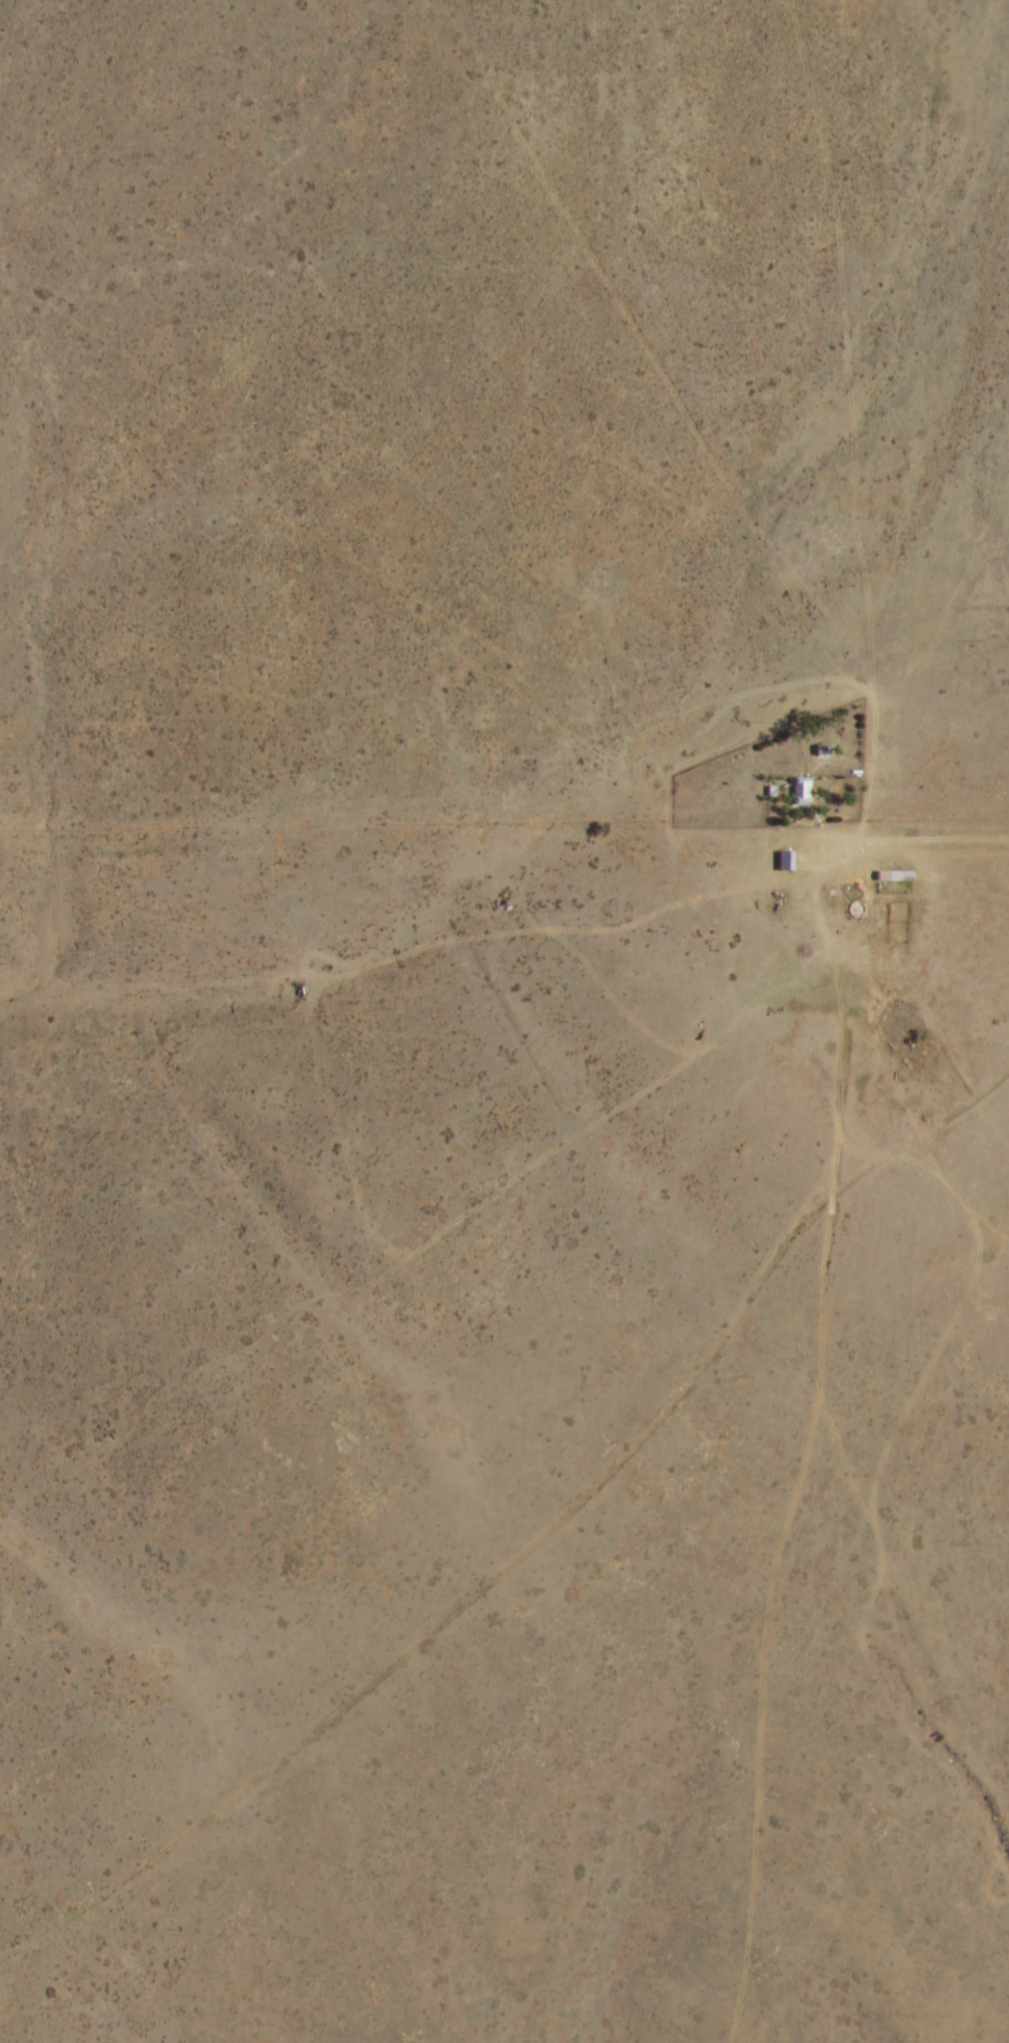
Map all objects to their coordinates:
building: (823, 752)
building: (801, 795)
building: (785, 863)
building: (894, 877)
road: (267, 902)
road: (510, 1469)
road: (774, 1654)
road: (3, 2020)

